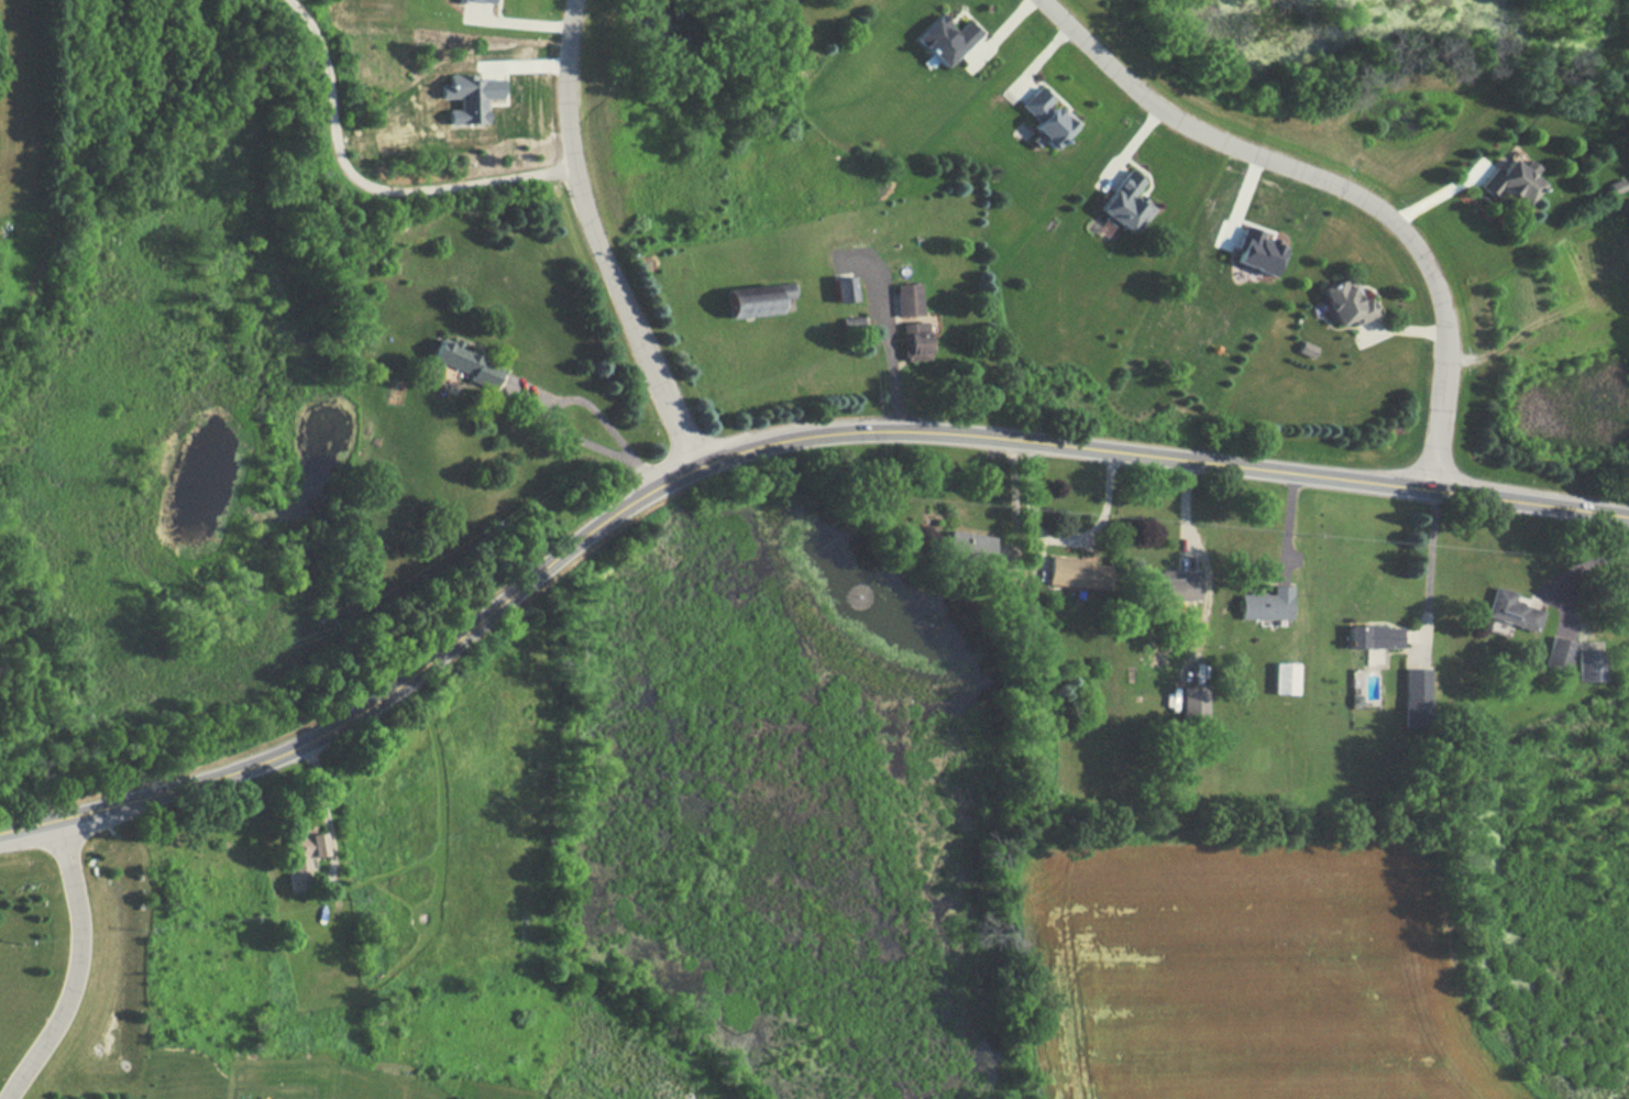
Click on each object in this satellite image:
building: (1506, 184)
road: (1335, 186)
road: (359, 196)
road: (597, 239)
building: (839, 289)
building: (753, 301)
building: (1341, 304)
building: (910, 321)
road: (893, 355)
building: (469, 366)
road: (535, 397)
road: (569, 402)
road: (763, 441)
road: (1059, 541)
road: (1430, 561)
road: (1584, 567)
building: (1076, 574)
building: (1171, 592)
building: (1263, 605)
building: (1509, 612)
building: (1371, 637)
building: (1559, 655)
building: (1592, 666)
building: (1281, 679)
building: (1418, 696)
road: (323, 798)
building: (302, 851)
building: (309, 960)
road: (77, 965)

